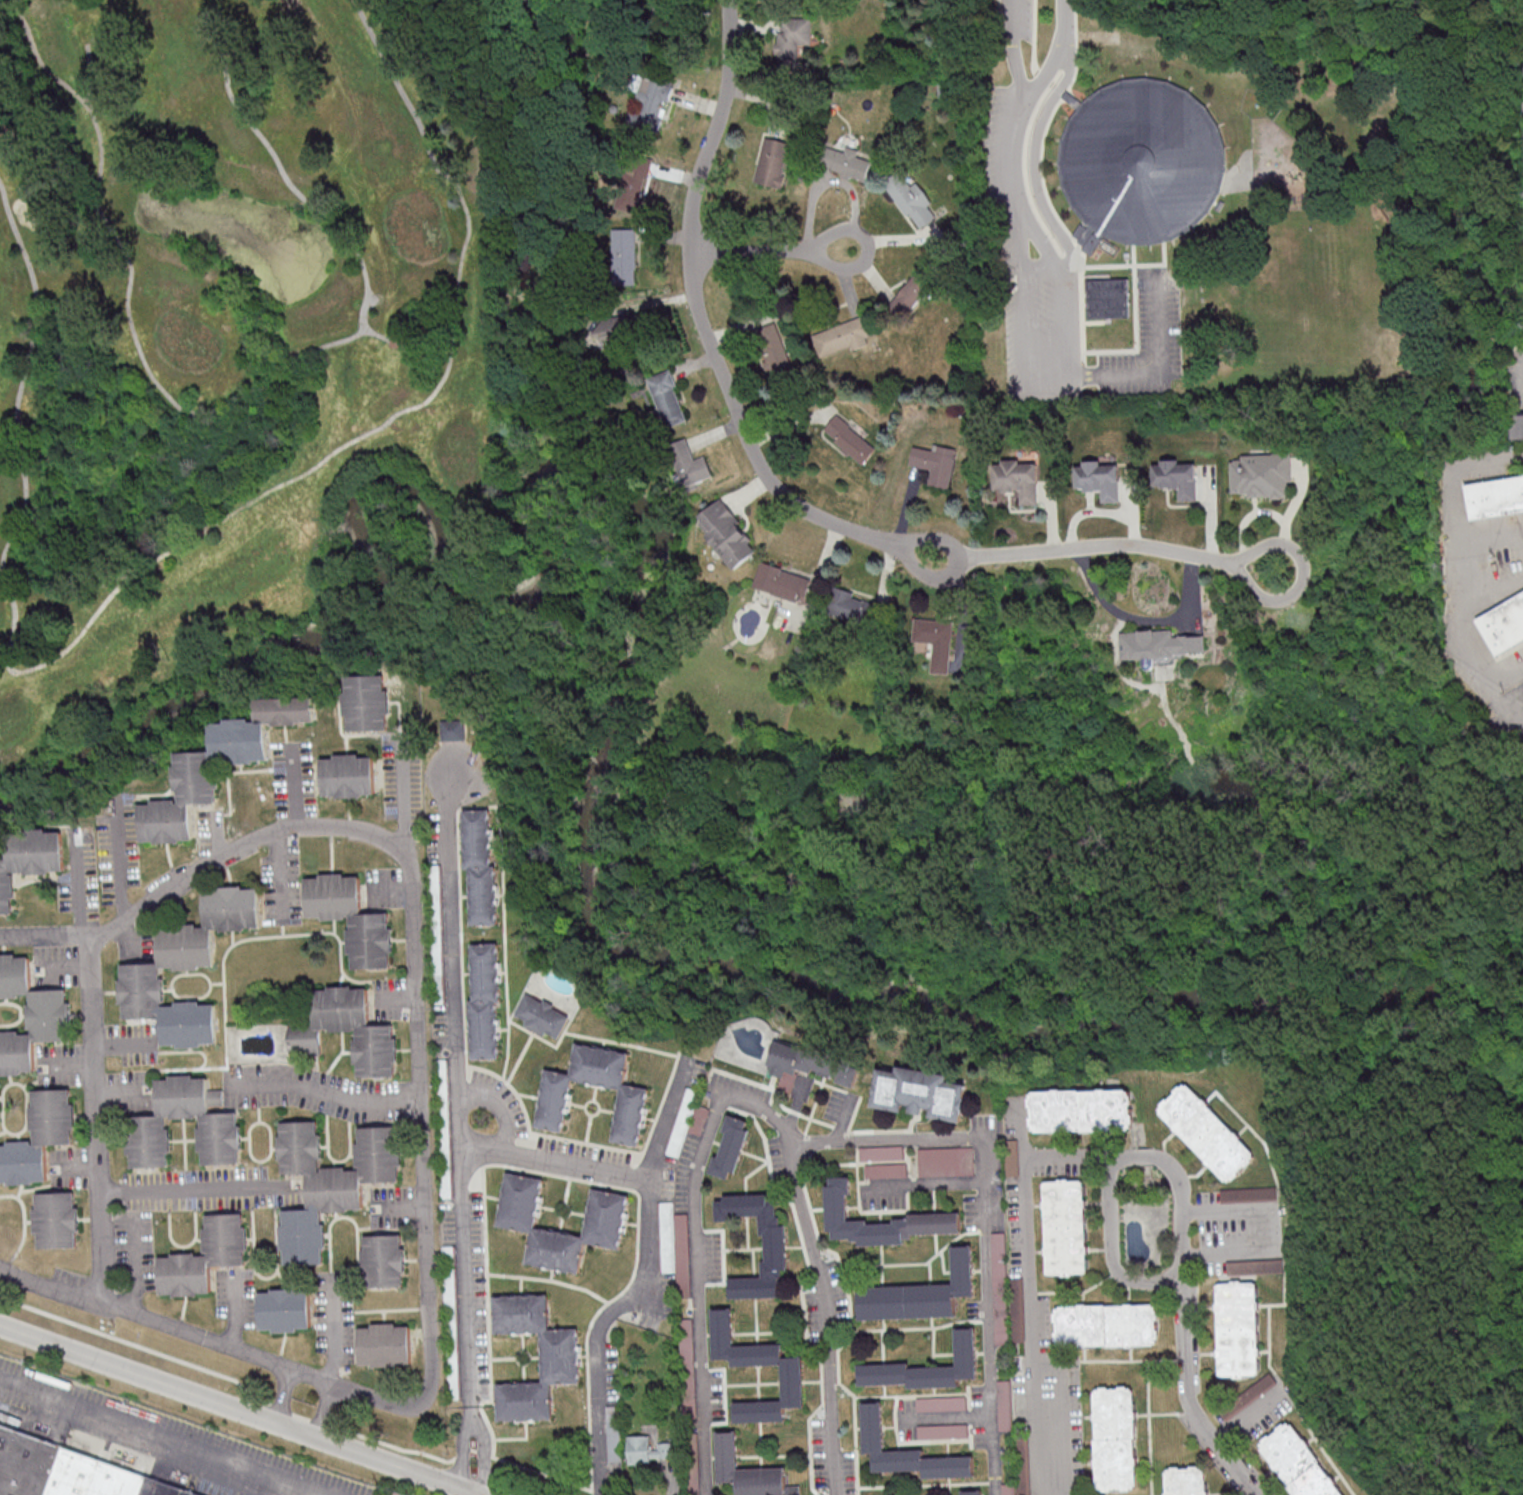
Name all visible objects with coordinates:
building: (792, 39)
road: (1012, 54)
road: (1060, 57)
road: (39, 59)
building: (650, 103)
building: (773, 161)
building: (845, 162)
building: (1139, 163)
building: (633, 185)
road: (1017, 189)
building: (911, 197)
road: (1023, 239)
building: (621, 248)
road: (783, 250)
road: (1040, 265)
building: (911, 293)
road: (374, 300)
building: (1109, 300)
road: (1064, 320)
building: (613, 326)
park: (235, 333)
building: (841, 334)
road: (375, 336)
building: (397, 341)
road: (1025, 345)
road: (711, 346)
building: (773, 347)
road: (1158, 369)
road: (251, 384)
building: (663, 395)
building: (1516, 425)
building: (849, 438)
building: (932, 462)
building: (689, 463)
building: (1258, 473)
building: (1172, 477)
building: (1014, 478)
building: (1095, 478)
building: (1494, 496)
building: (727, 533)
road: (182, 541)
road: (1118, 545)
road: (1464, 566)
building: (779, 580)
river: (376, 590)
building: (850, 605)
road: (1143, 619)
building: (1502, 622)
building: (934, 640)
building: (1154, 643)
building: (364, 701)
building: (454, 729)
building: (348, 775)
building: (198, 781)
road: (292, 784)
road: (403, 796)
building: (26, 856)
road: (117, 859)
building: (482, 866)
road: (277, 875)
road: (77, 888)
building: (348, 917)
building: (438, 933)
road: (63, 964)
river: (739, 967)
building: (137, 971)
road: (396, 997)
building: (487, 1000)
river: (1490, 1000)
building: (29, 1014)
building: (544, 1015)
building: (373, 1033)
road: (121, 1042)
building: (811, 1062)
road: (68, 1063)
building: (444, 1081)
road: (455, 1083)
road: (116, 1092)
building: (920, 1093)
road: (322, 1094)
road: (500, 1104)
building: (553, 1107)
building: (1081, 1109)
road: (95, 1118)
road: (842, 1118)
building: (687, 1120)
building: (144, 1121)
road: (420, 1131)
building: (1208, 1131)
building: (36, 1136)
road: (842, 1143)
building: (731, 1146)
building: (881, 1152)
building: (1012, 1157)
road: (553, 1161)
building: (946, 1161)
road: (72, 1166)
building: (886, 1170)
building: (446, 1175)
building: (330, 1182)
road: (929, 1183)
road: (190, 1190)
building: (1250, 1194)
building: (833, 1202)
road: (400, 1206)
building: (603, 1209)
building: (53, 1218)
building: (1066, 1226)
road: (1275, 1231)
building: (772, 1247)
road: (1113, 1248)
building: (201, 1256)
building: (380, 1260)
road: (1185, 1266)
road: (134, 1268)
road: (638, 1282)
road: (697, 1292)
building: (916, 1293)
building: (284, 1309)
building: (1018, 1314)
road: (987, 1315)
road: (823, 1317)
building: (452, 1322)
building: (1107, 1325)
road: (1032, 1326)
building: (1239, 1328)
road: (333, 1330)
building: (1002, 1333)
building: (385, 1344)
building: (556, 1357)
building: (740, 1365)
building: (923, 1367)
building: (691, 1393)
road: (280, 1395)
building: (1250, 1396)
building: (941, 1403)
road: (242, 1410)
road: (324, 1410)
road: (946, 1417)
road: (1063, 1420)
building: (942, 1431)
building: (614, 1432)
road: (167, 1435)
building: (1116, 1438)
building: (646, 1449)
road: (461, 1450)
building: (903, 1451)
road: (482, 1454)
building: (1299, 1462)
building: (67, 1471)
building: (745, 1471)
building: (1187, 1480)
building: (968, 1492)
building: (394, 1494)

